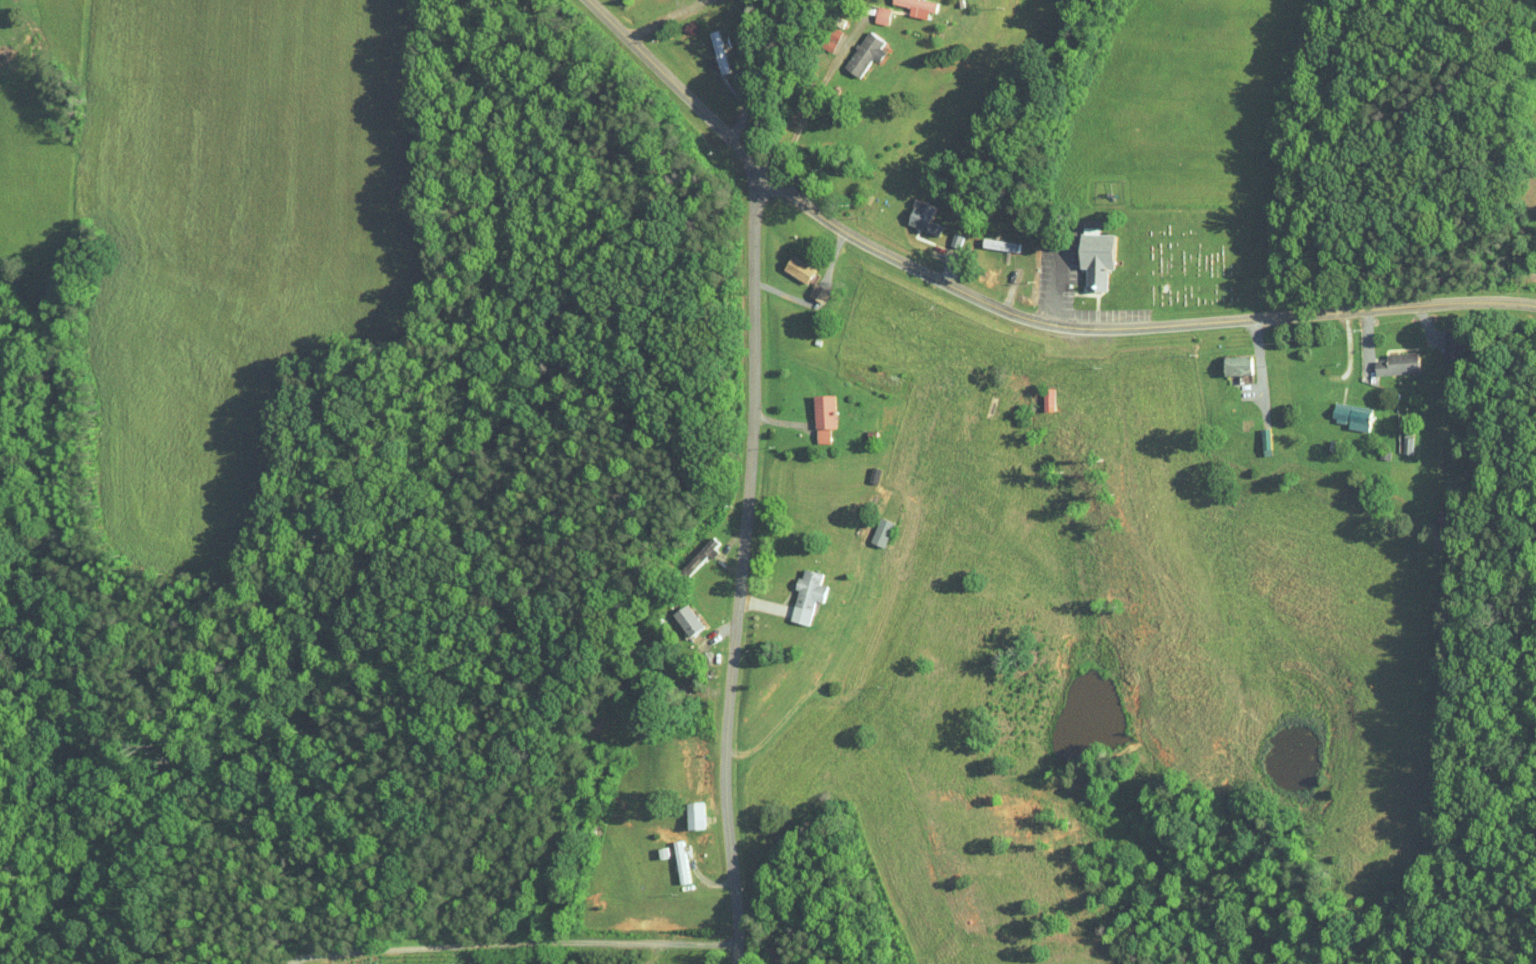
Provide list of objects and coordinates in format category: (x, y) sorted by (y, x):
building: (907, 4)
building: (869, 8)
road: (649, 15)
building: (819, 33)
building: (706, 45)
building: (852, 46)
road: (817, 90)
building: (906, 208)
building: (1081, 252)
building: (785, 262)
road: (1057, 283)
building: (805, 287)
road: (1008, 311)
building: (1383, 357)
building: (1224, 359)
road: (1259, 369)
building: (1035, 393)
building: (810, 410)
building: (1338, 410)
building: (868, 526)
road: (743, 563)
building: (794, 590)
building: (674, 613)
building: (682, 809)
building: (669, 855)
road: (705, 876)
road: (509, 940)

